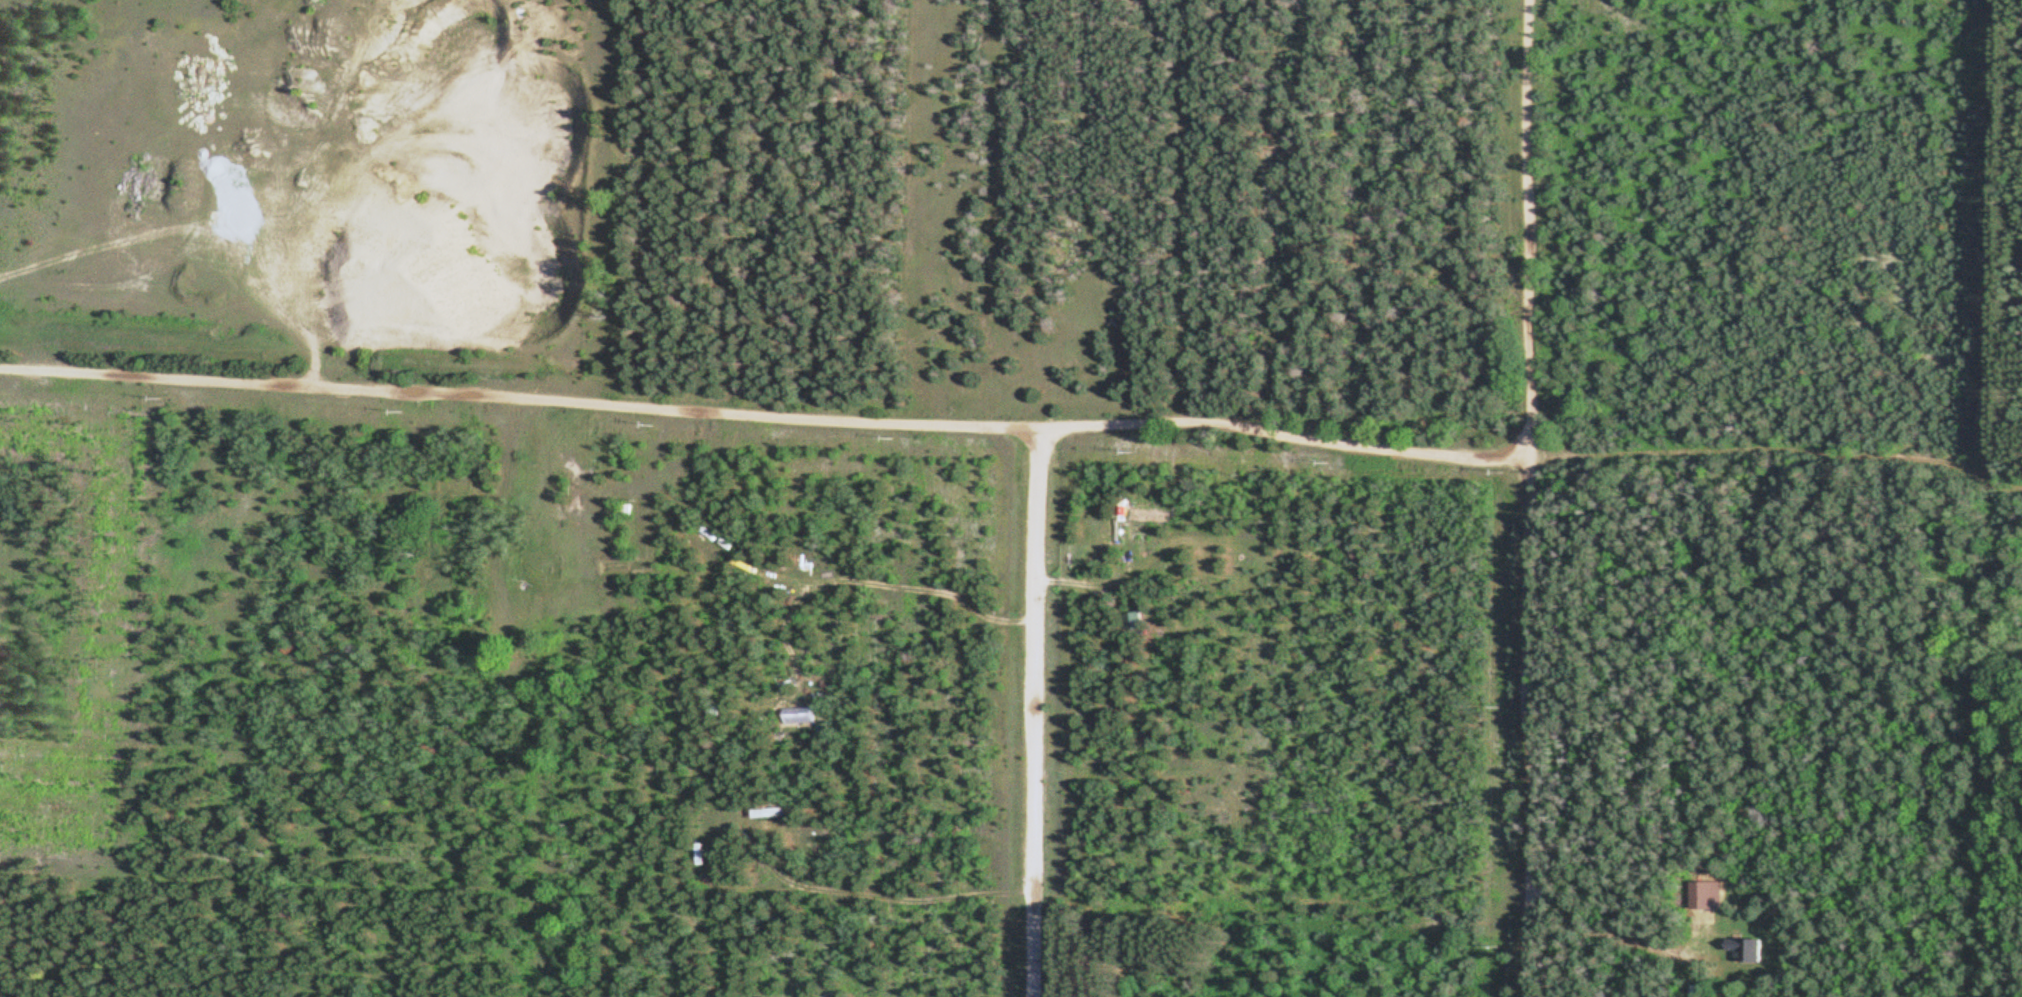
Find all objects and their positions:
quarry: (325, 177)
road: (185, 287)
road: (762, 414)
road: (1775, 448)
road: (1524, 498)
building: (636, 524)
building: (1098, 540)
road: (842, 580)
road: (1032, 711)
road: (1601, 934)
building: (1741, 947)

